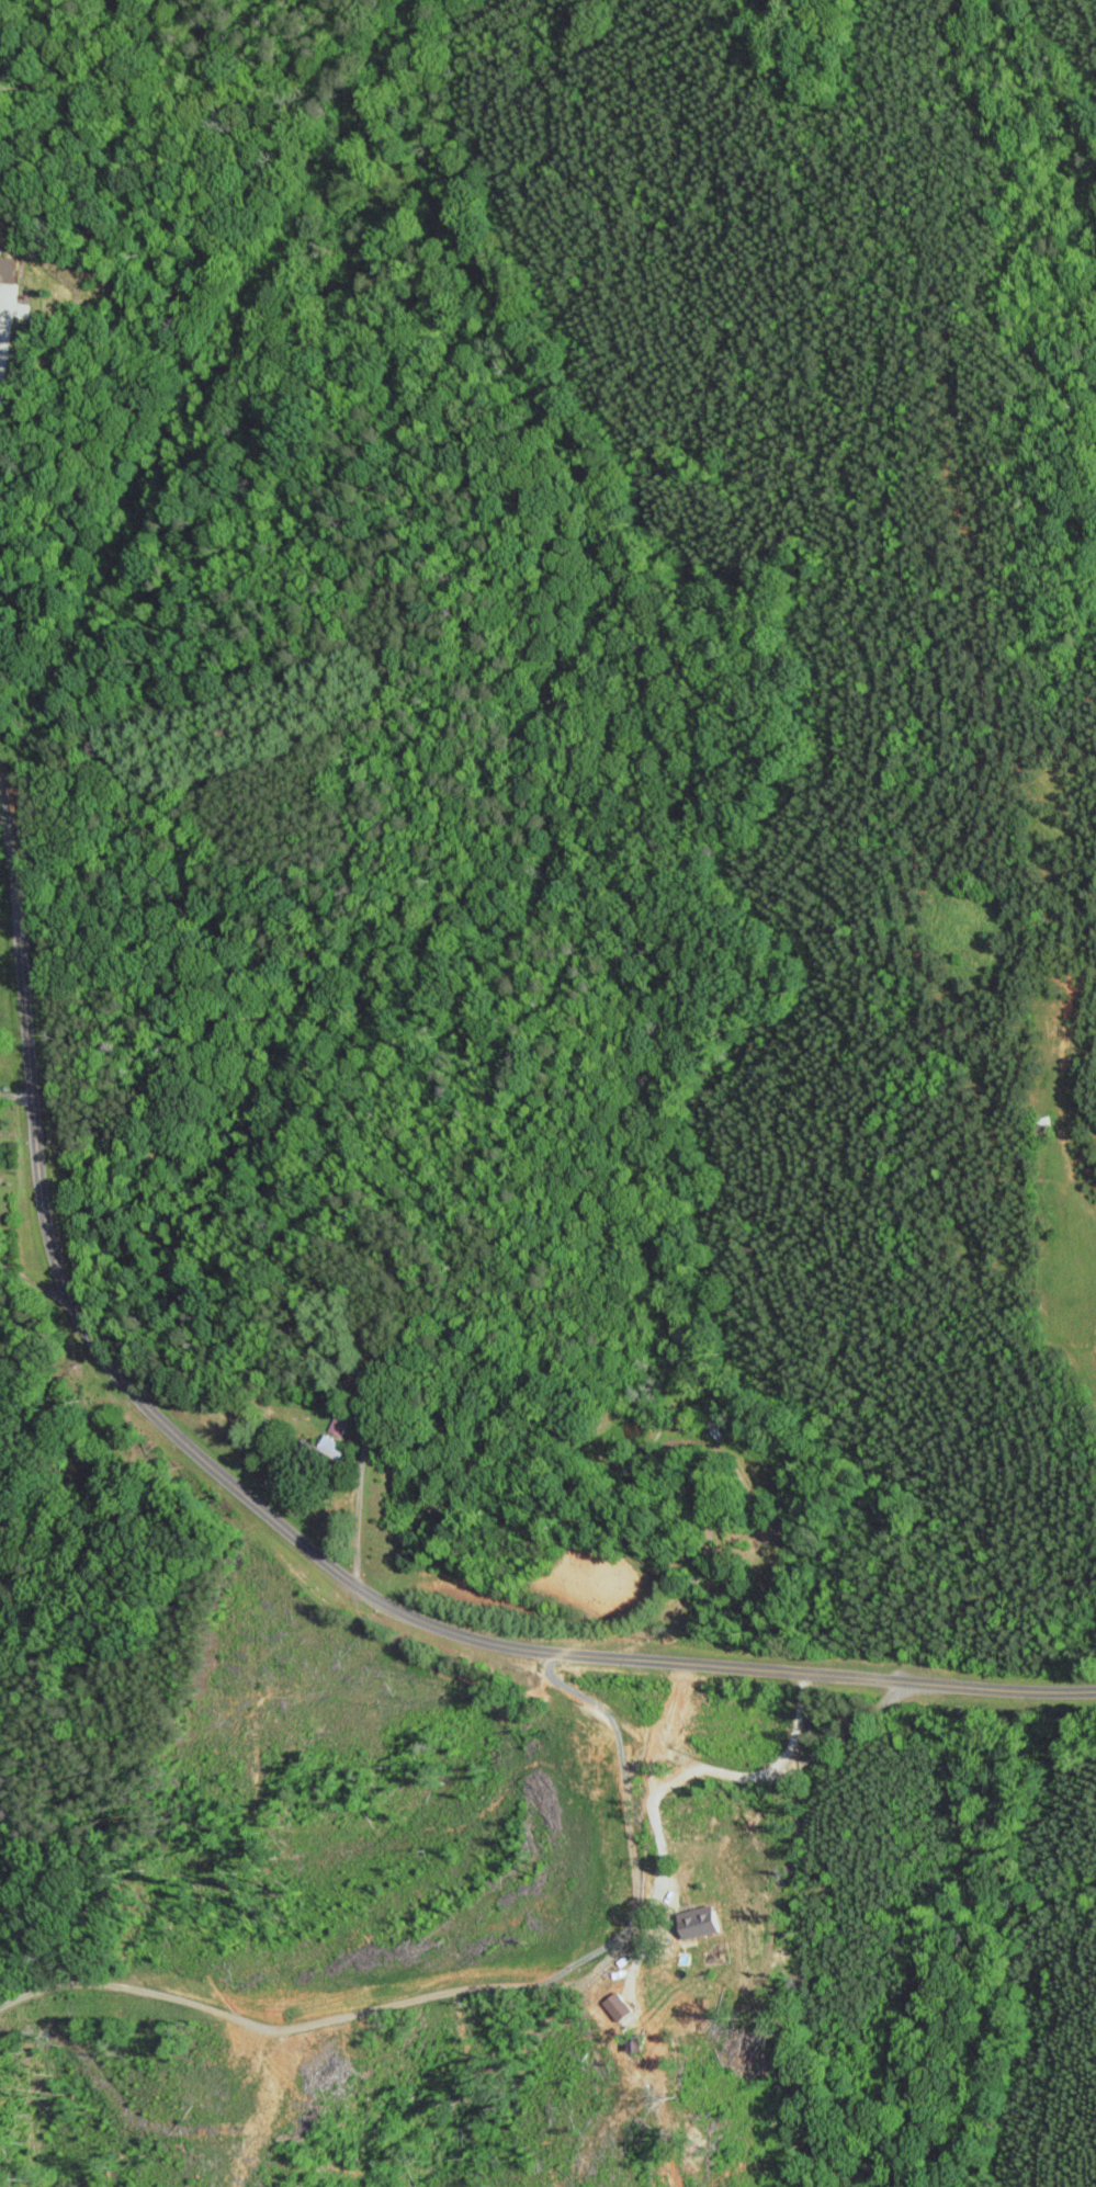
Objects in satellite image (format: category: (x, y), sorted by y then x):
building: (8, 294)
road: (2, 374)
road: (1074, 1174)
building: (330, 1427)
building: (321, 1449)
road: (300, 1543)
road: (788, 1774)
building: (693, 1920)
road: (485, 1986)
building: (613, 2005)

